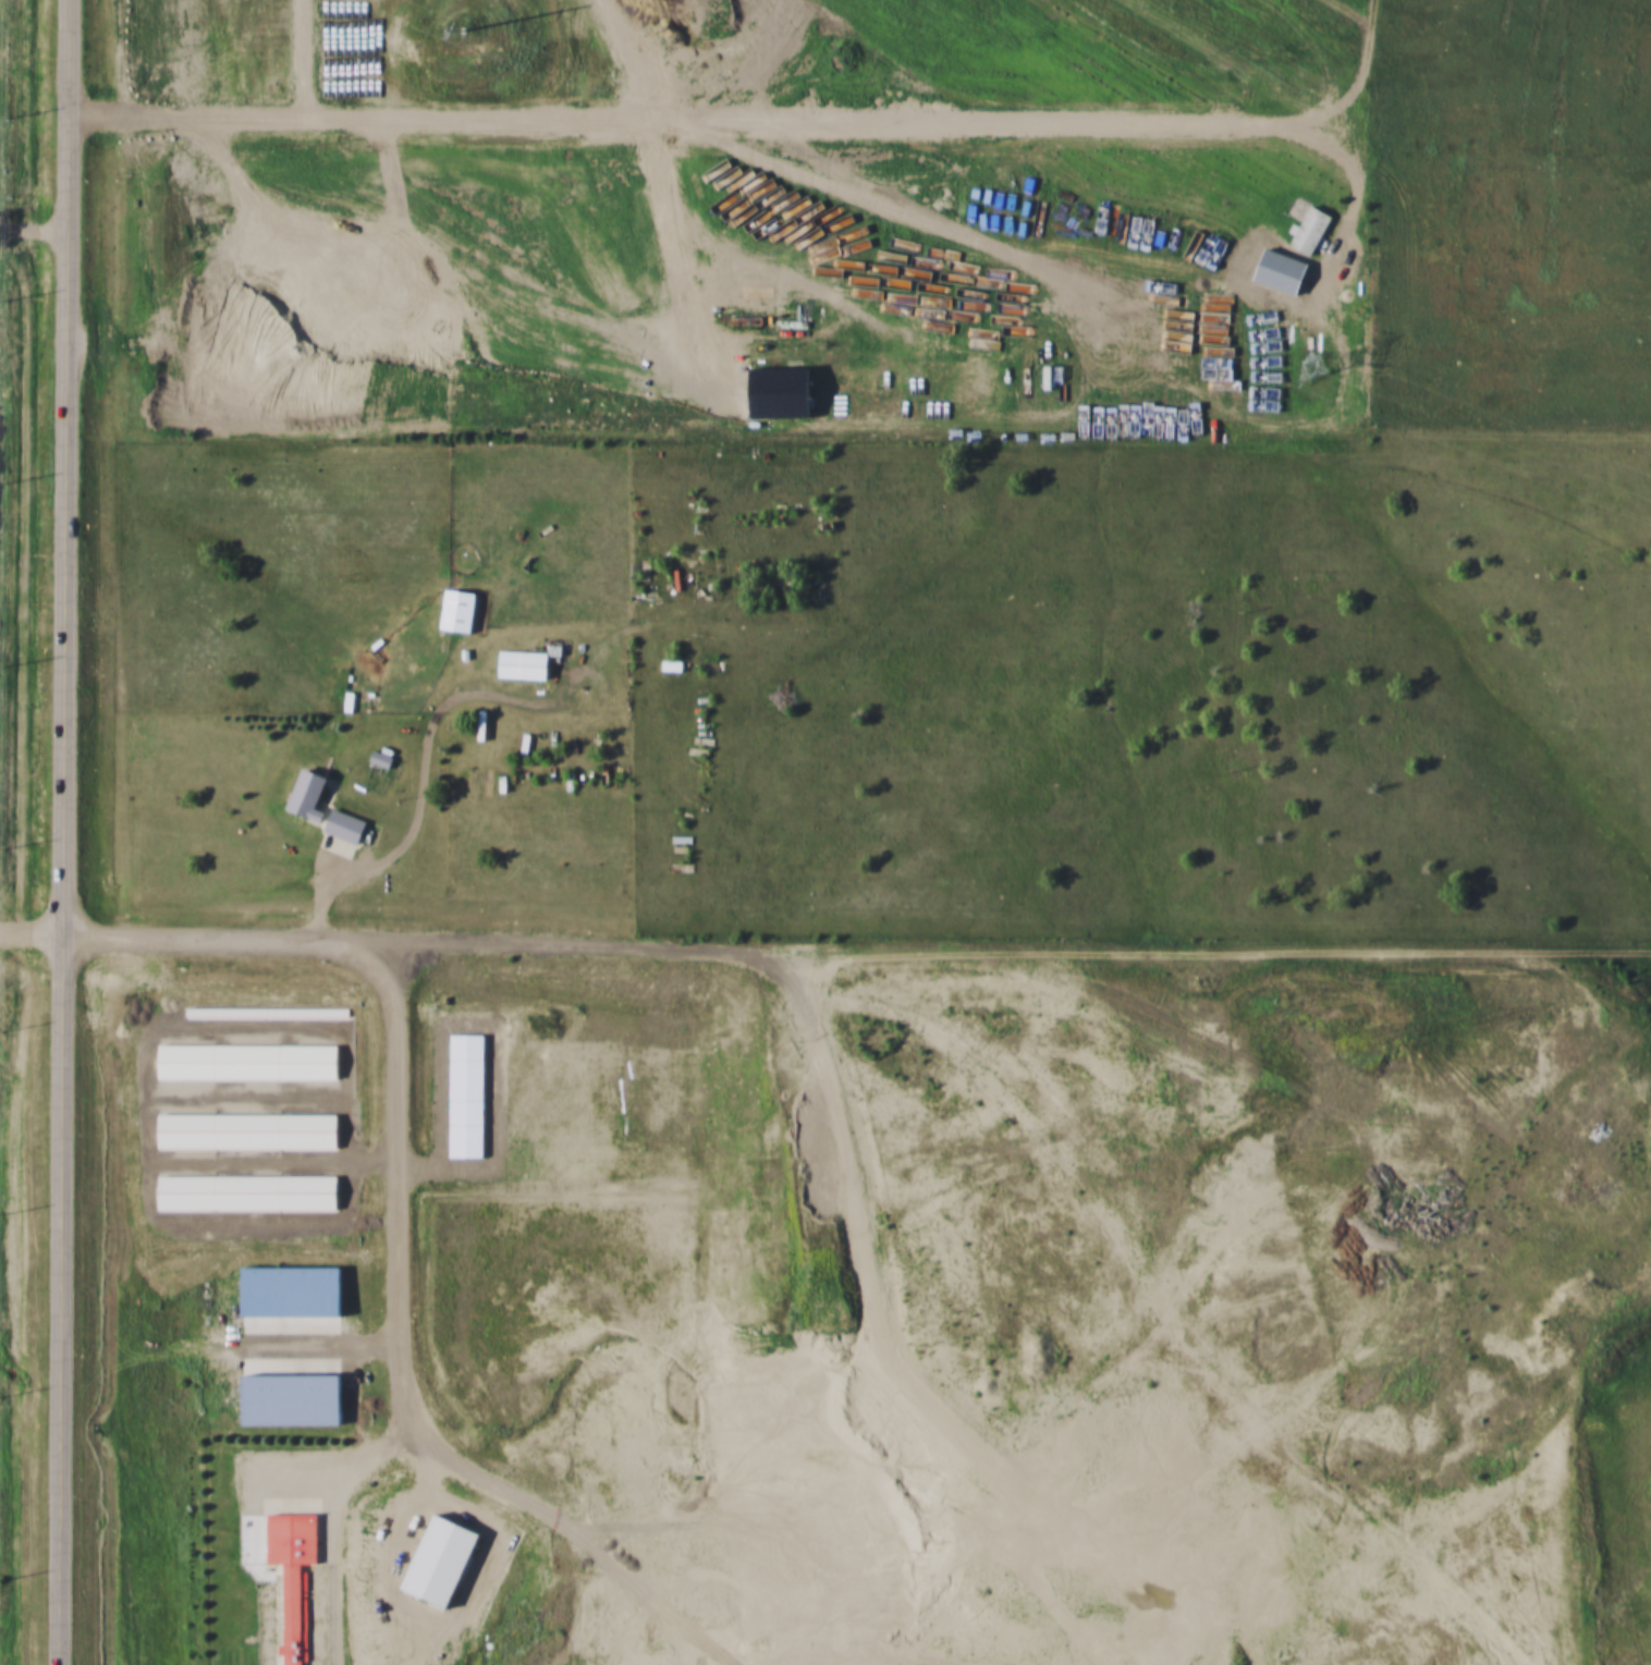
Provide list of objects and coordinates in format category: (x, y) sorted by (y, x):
power tower: (433, 14)
road: (33, 233)
building: (443, 277)
road: (258, 341)
building: (562, 350)
power tower: (1314, 360)
building: (431, 385)
building: (598, 411)
building: (464, 614)
building: (526, 664)
building: (674, 664)
building: (313, 795)
building: (347, 827)
road: (60, 832)
road: (29, 934)
road: (415, 947)
road: (1211, 952)
building: (250, 1192)
building: (295, 1578)

